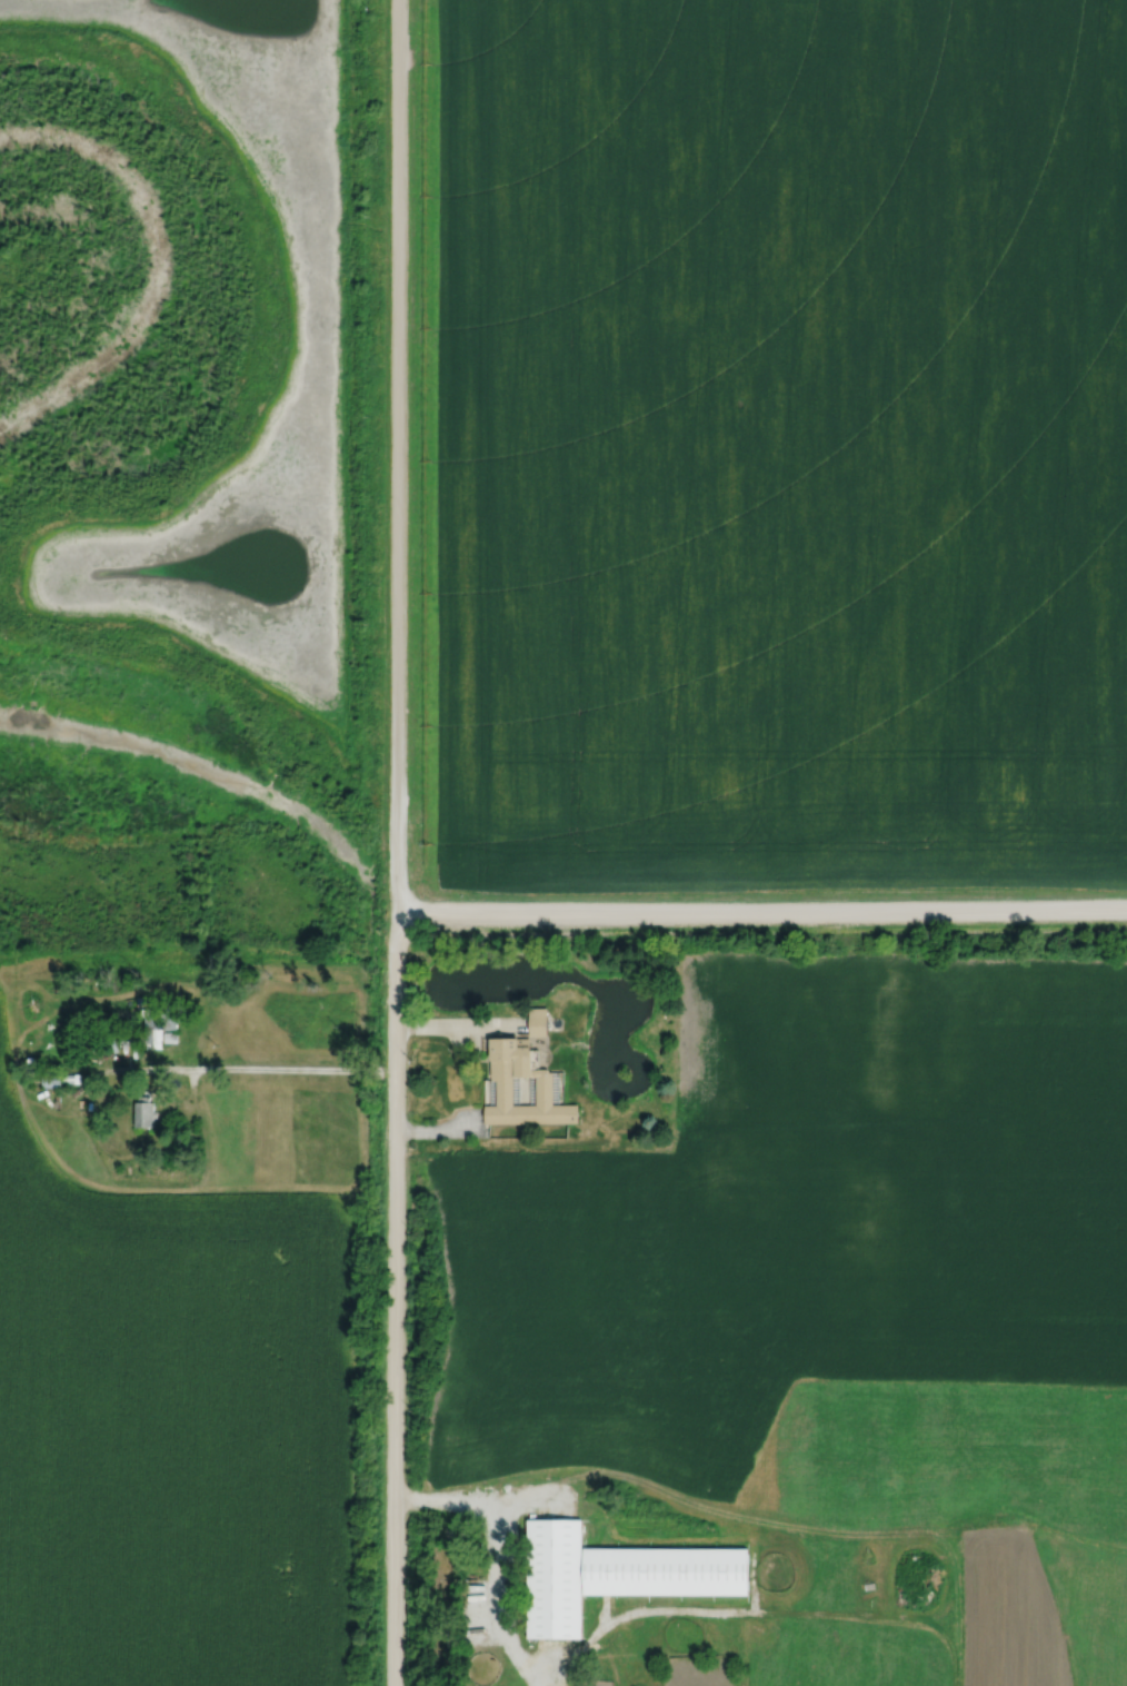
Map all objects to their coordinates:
crop: (781, 444)
road: (396, 843)
road: (761, 905)
building: (170, 1008)
building: (149, 1013)
building: (538, 1021)
building: (166, 1022)
road: (459, 1022)
building: (150, 1023)
building: (129, 1035)
building: (152, 1037)
building: (170, 1038)
road: (205, 1068)
building: (66, 1077)
building: (49, 1078)
building: (543, 1090)
building: (143, 1111)
road: (439, 1131)
crop: (801, 1210)
road: (496, 1557)
building: (665, 1570)
building: (553, 1578)

